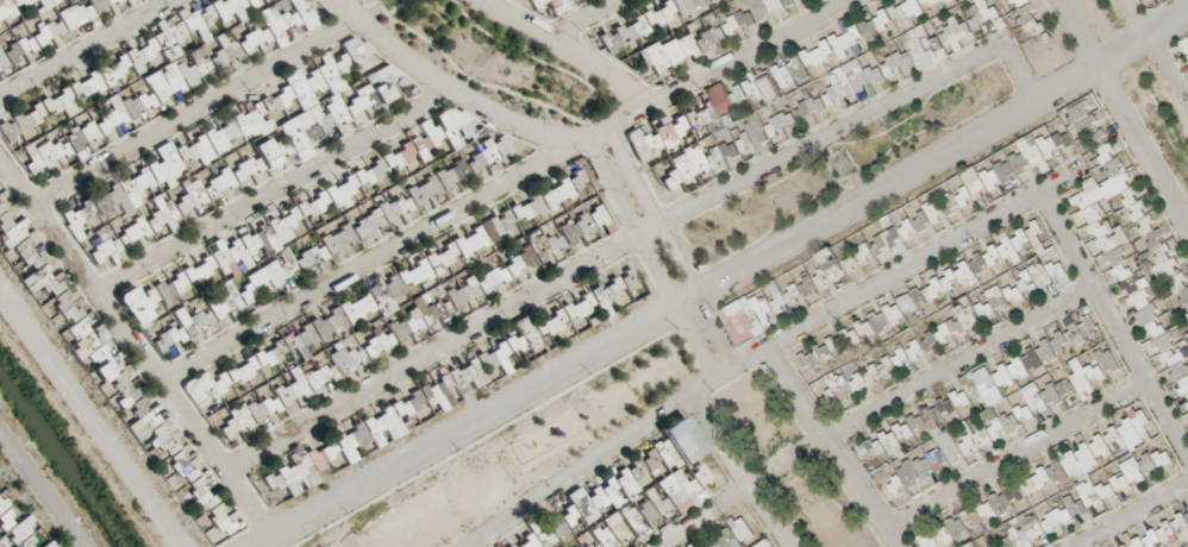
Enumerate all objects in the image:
road: (590, 20)
building: (939, 26)
road: (571, 51)
road: (1155, 56)
road: (1012, 70)
road: (445, 87)
road: (198, 112)
road: (1120, 117)
road: (507, 184)
road: (280, 195)
road: (674, 246)
building: (883, 246)
road: (604, 258)
road: (652, 260)
road: (724, 281)
building: (936, 298)
road: (1112, 333)
building: (930, 345)
road: (767, 350)
road: (957, 364)
building: (1058, 379)
building: (992, 391)
building: (896, 445)
road: (832, 448)
building: (1107, 449)
road: (1013, 458)
road: (739, 472)
building: (1133, 474)
road: (1128, 514)
road: (708, 518)
building: (1168, 535)

